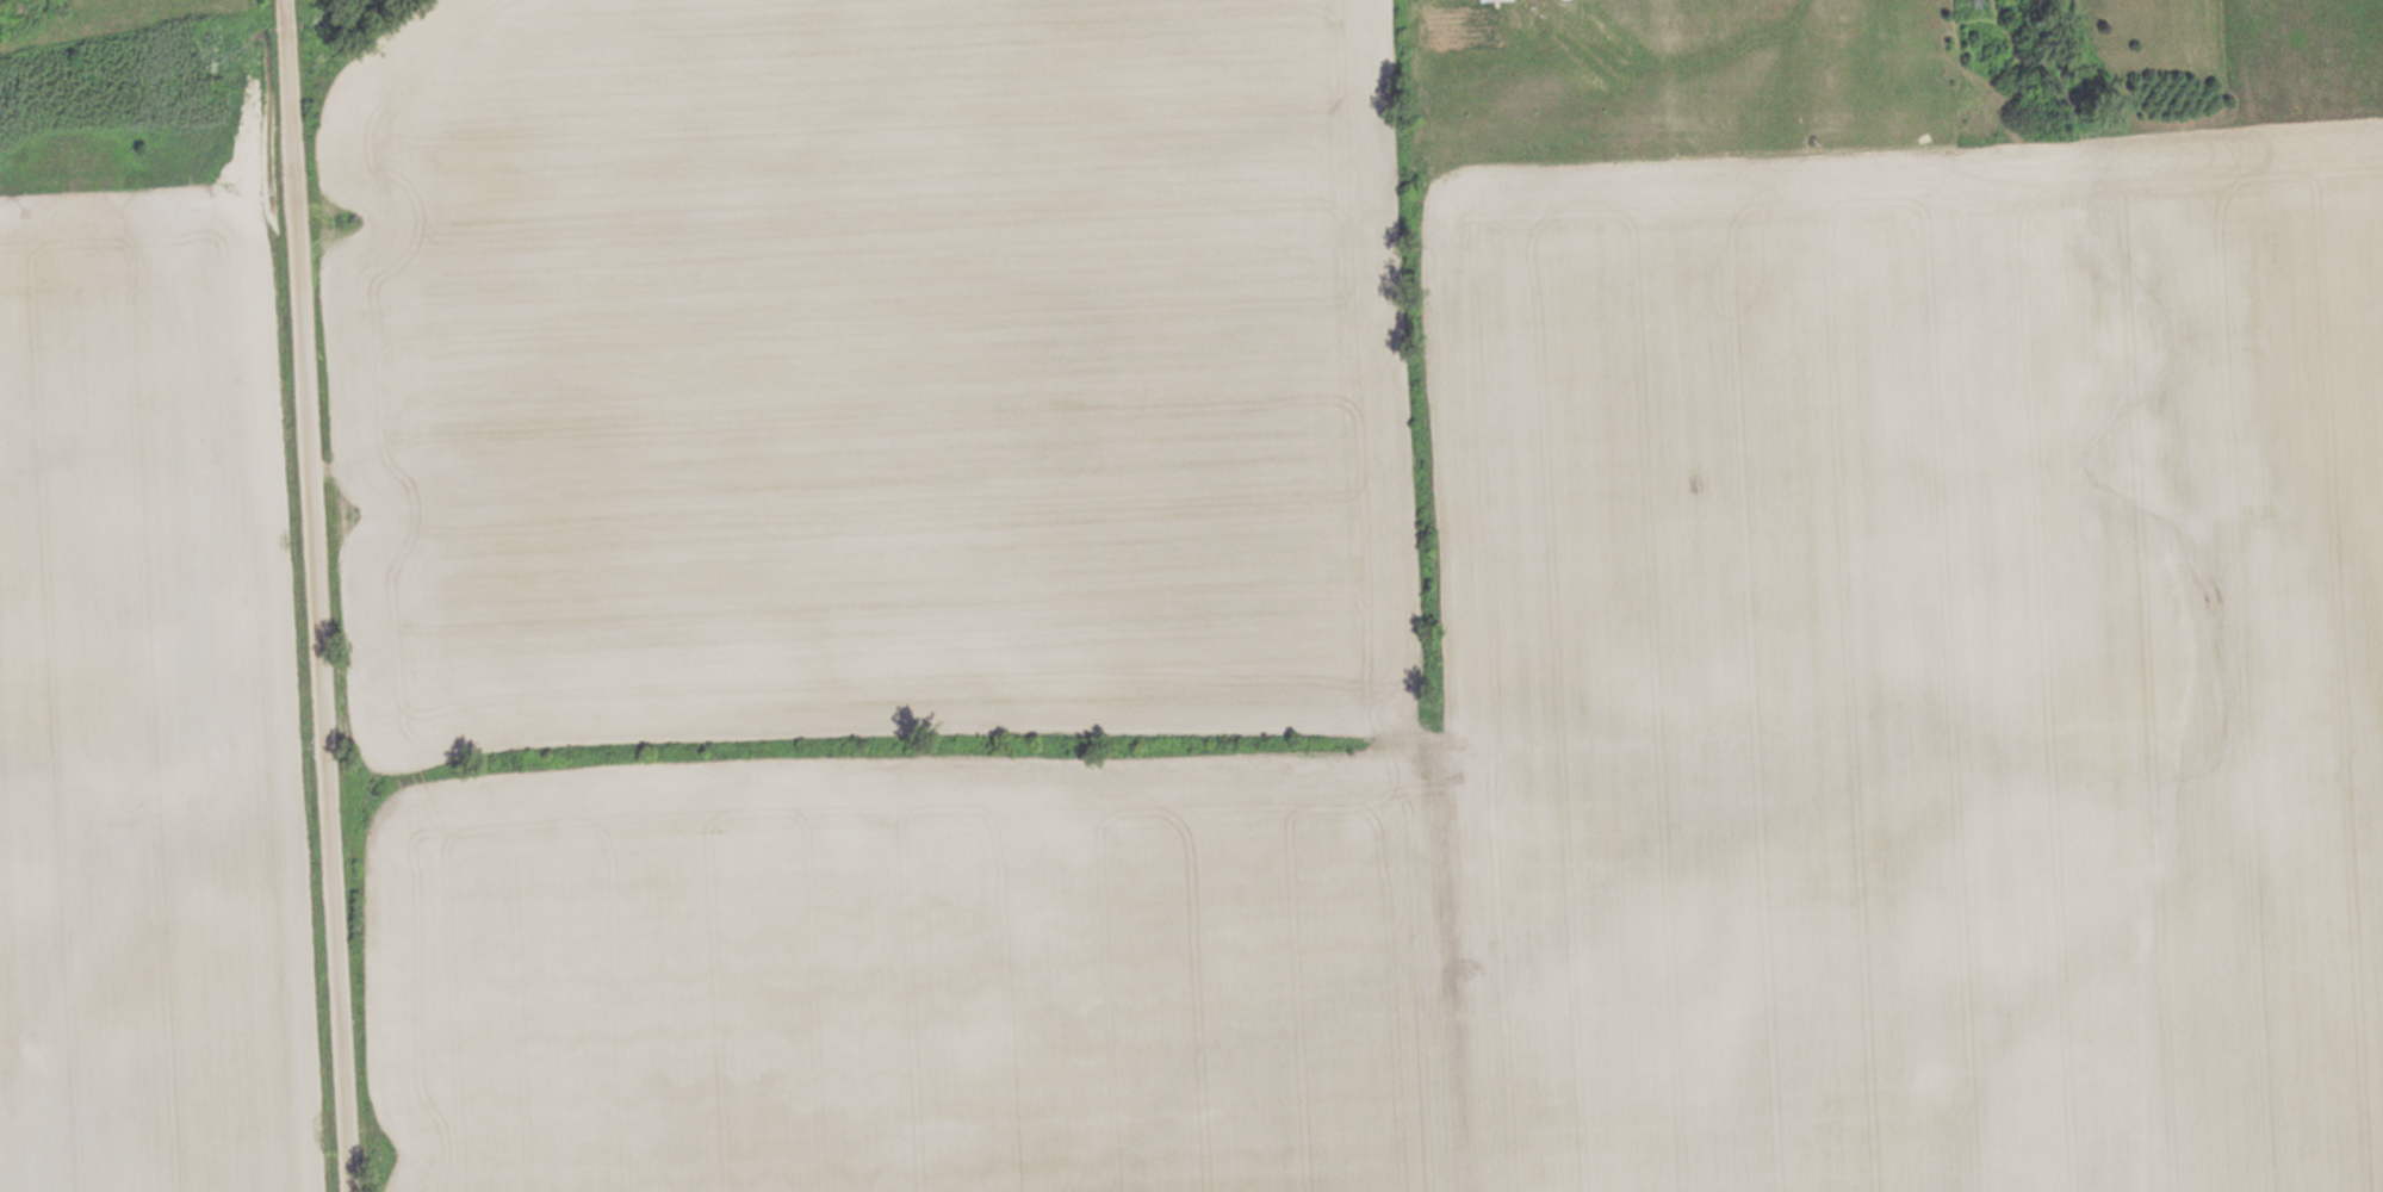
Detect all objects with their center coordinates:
road: (308, 595)
crop: (1922, 659)

